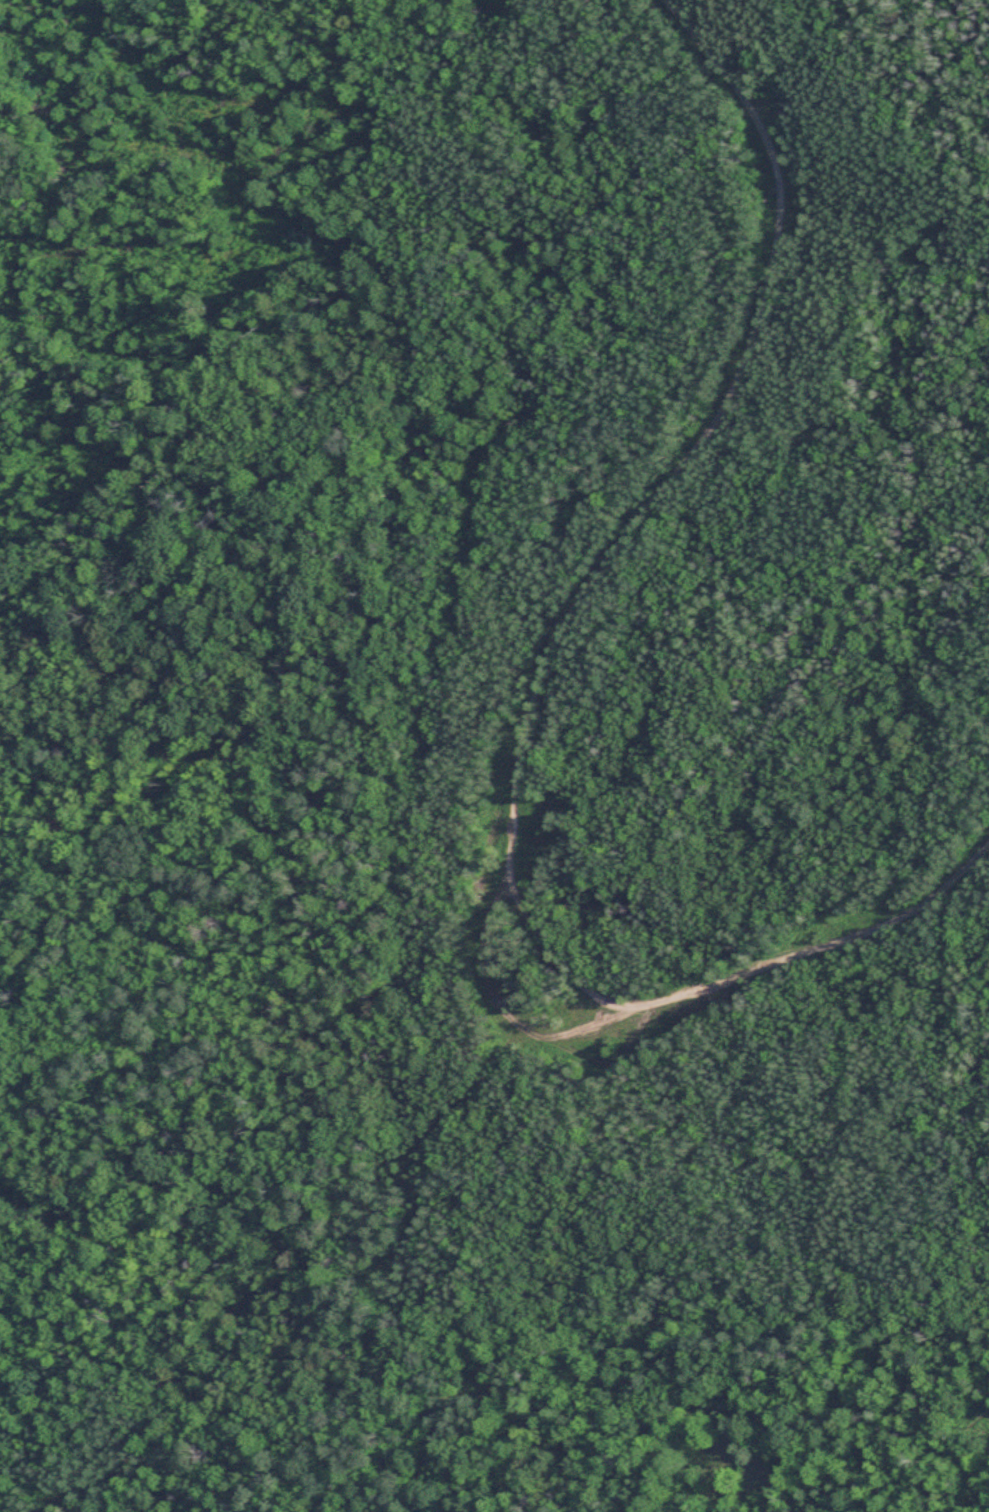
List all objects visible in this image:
road: (544, 684)

